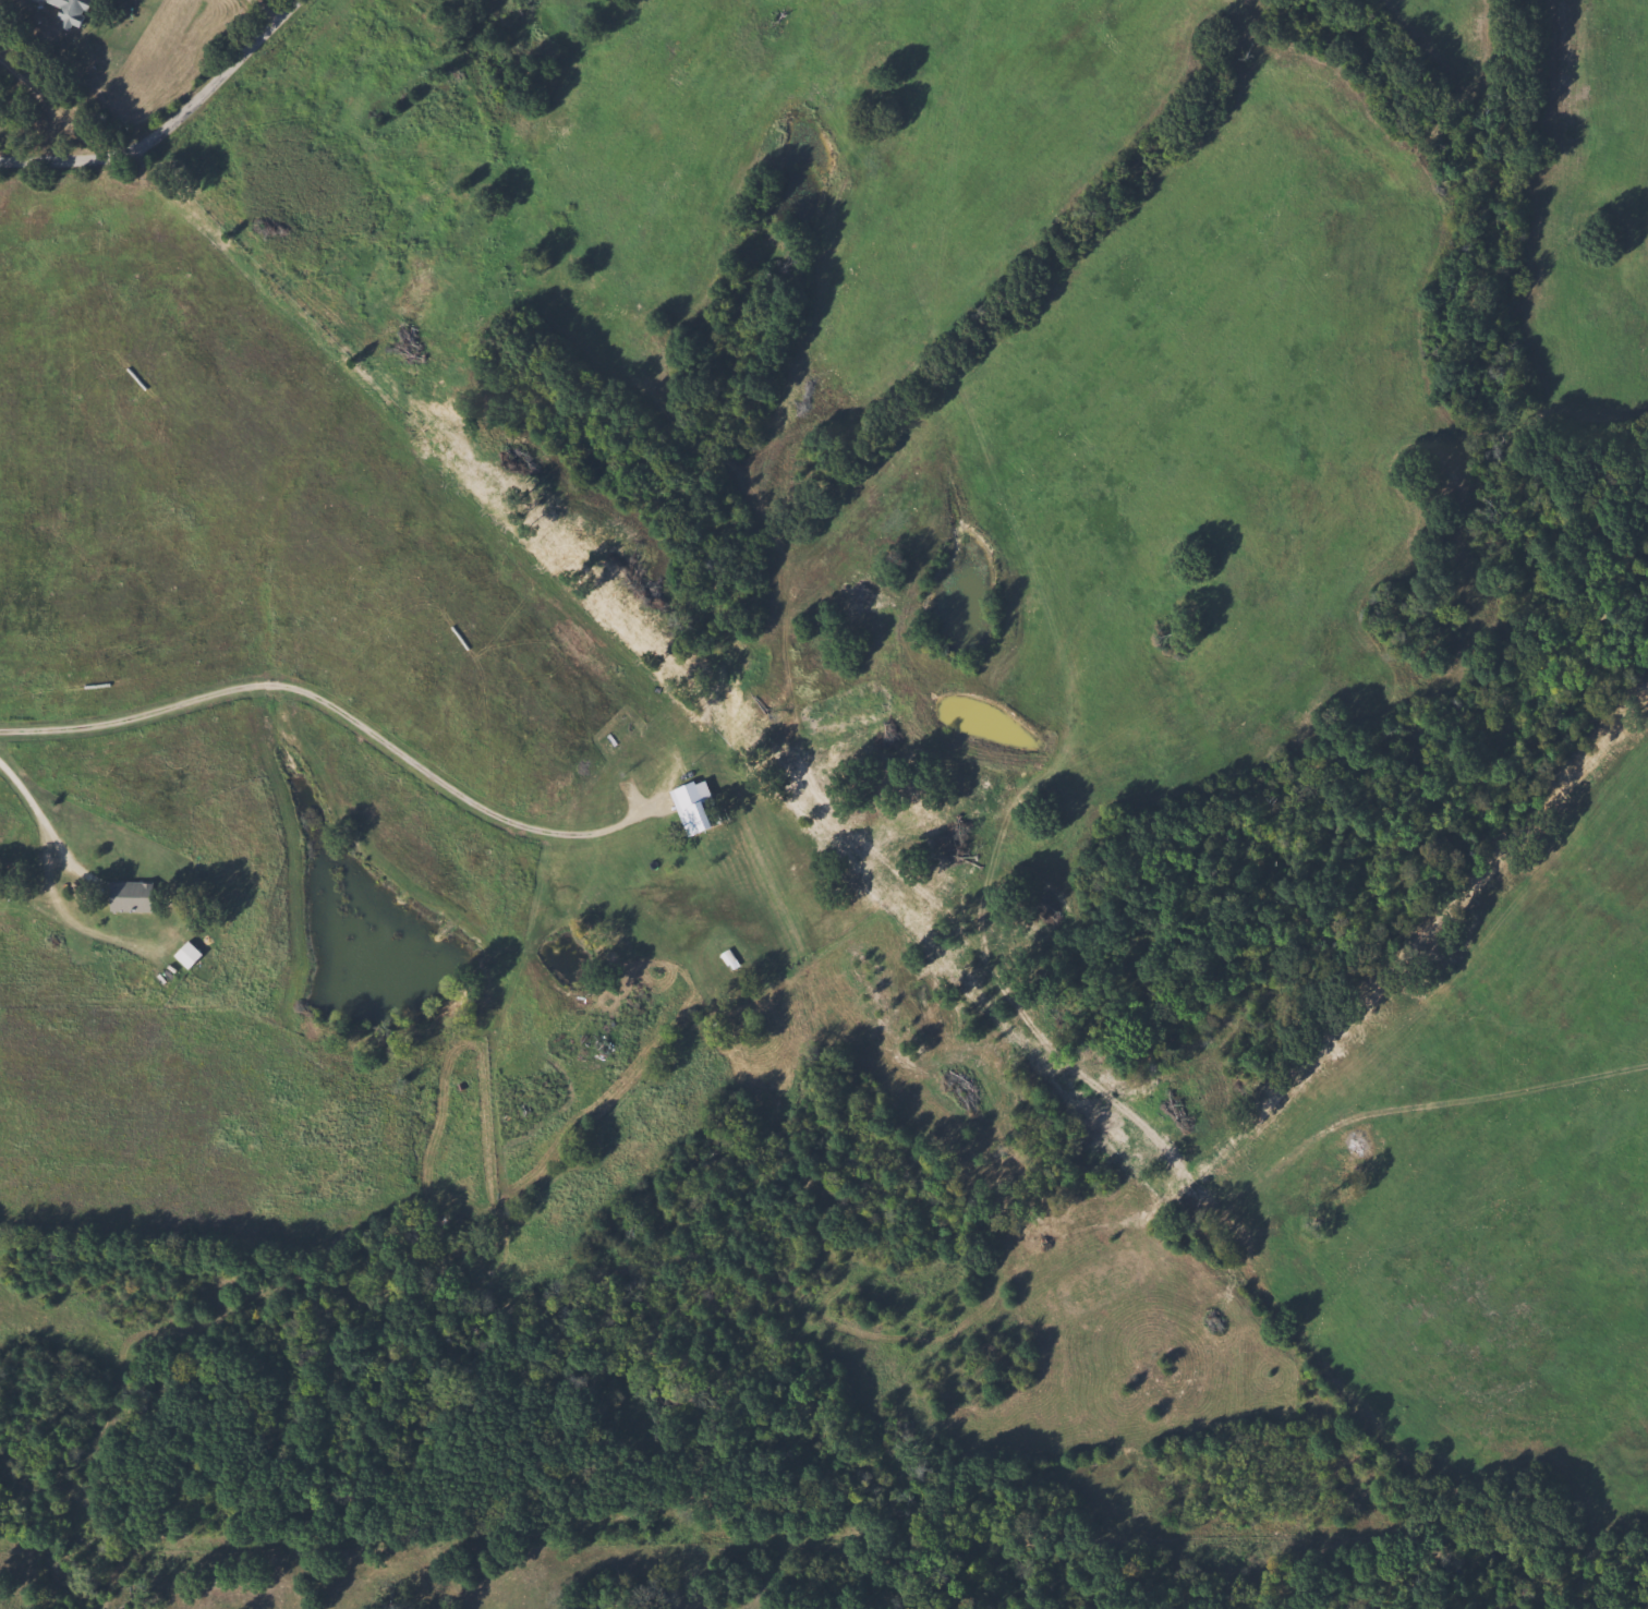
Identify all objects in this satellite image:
road: (271, 7)
building: (66, 12)
road: (168, 125)
road: (334, 698)
road: (39, 794)
building: (693, 814)
building: (124, 896)
building: (181, 954)
building: (724, 959)

